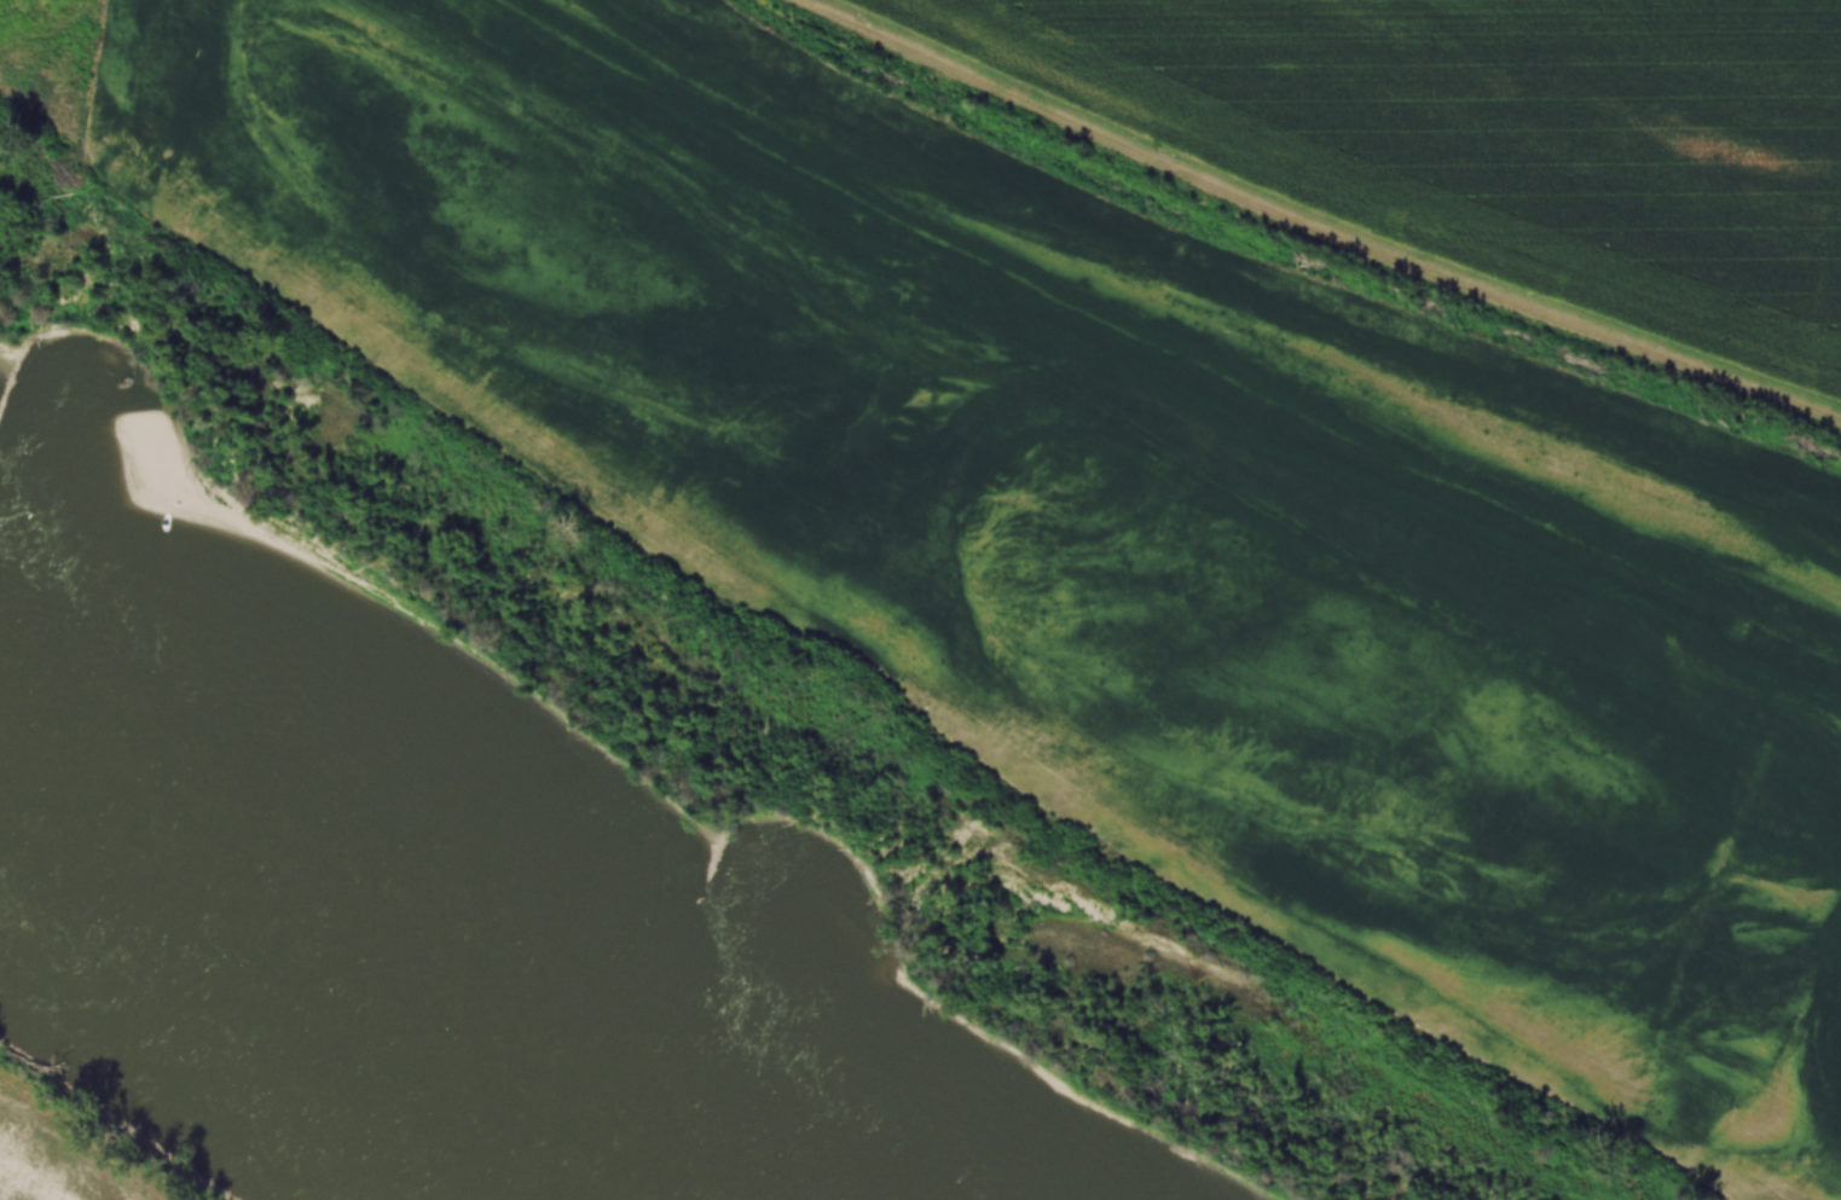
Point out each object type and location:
river: (359, 970)

